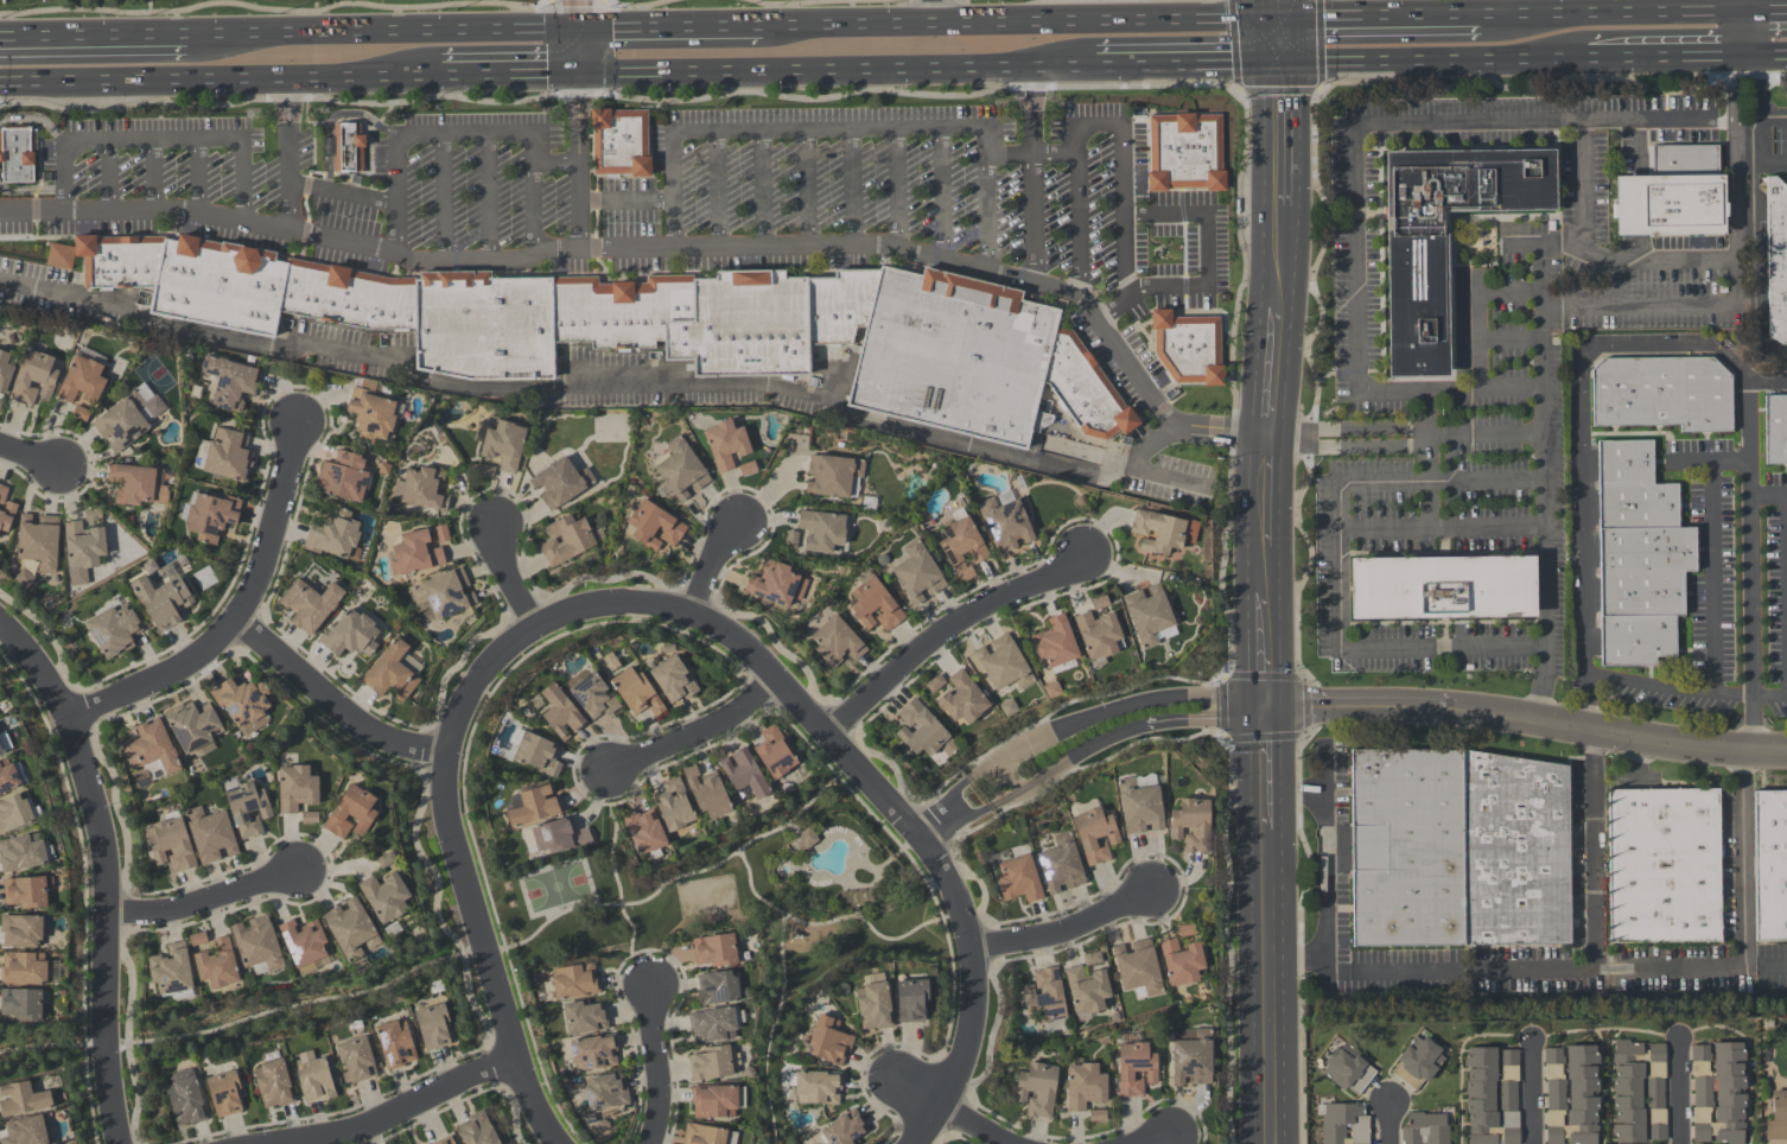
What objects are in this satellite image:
road: (822, 2)
road: (1742, 6)
road: (147, 7)
road: (1533, 7)
road: (412, 9)
road: (1274, 9)
road: (1283, 9)
road: (74, 12)
road: (929, 12)
road: (1764, 12)
road: (1613, 13)
road: (1380, 17)
traffic signals: (1279, 19)
road: (1022, 23)
road: (669, 28)
traffic signals: (575, 30)
road: (380, 32)
road: (93, 34)
road: (1743, 34)
road: (1279, 42)
road: (1764, 56)
road: (1662, 57)
road: (1431, 61)
road: (1188, 64)
traffic signals: (1279, 64)
road: (835, 68)
traffic signals: (575, 72)
road: (504, 74)
road: (216, 78)
road: (357, 114)
road: (1772, 117)
road: (1533, 120)
road: (37, 122)
road: (575, 126)
road: (967, 133)
road: (1278, 135)
road: (444, 138)
building: (619, 141)
road: (160, 146)
road: (329, 147)
building: (345, 147)
building: (1187, 152)
building: (17, 153)
road: (288, 153)
road: (1745, 164)
road: (1772, 164)
road: (1581, 173)
road: (329, 174)
road: (1035, 176)
road: (154, 178)
road: (110, 179)
road: (199, 180)
road: (1734, 182)
parking lot: (580, 183)
road: (853, 189)
road: (803, 190)
road: (761, 191)
road: (899, 191)
road: (713, 192)
road: (32, 193)
building: (1668, 195)
road: (342, 196)
road: (1757, 196)
road: (943, 197)
road: (485, 199)
road: (443, 201)
road: (624, 205)
road: (532, 211)
road: (987, 215)
road: (1077, 227)
road: (1562, 237)
building: (1441, 239)
road: (1525, 246)
road: (24, 250)
road: (1209, 250)
road: (621, 253)
road: (1357, 256)
road: (1278, 258)
road: (1647, 260)
building: (1775, 260)
road: (1511, 292)
building: (492, 306)
road: (1640, 307)
road: (1512, 341)
road: (1480, 342)
road: (1692, 342)
building: (1190, 348)
building: (954, 354)
building: (5, 371)
building: (33, 377)
road: (1270, 377)
building: (82, 381)
building: (229, 382)
road: (636, 389)
building: (1086, 389)
road: (1451, 392)
building: (1662, 396)
building: (0, 402)
building: (371, 411)
building: (80, 413)
building: (121, 421)
road: (1348, 426)
road: (1487, 432)
building: (1776, 432)
building: (503, 445)
building: (725, 445)
road: (1347, 449)
building: (199, 453)
road: (1545, 455)
building: (228, 456)
road: (28, 459)
road: (1429, 459)
road: (1707, 459)
building: (680, 469)
building: (746, 469)
building: (485, 471)
building: (832, 475)
building: (344, 476)
road: (1163, 478)
road: (1441, 478)
building: (560, 483)
building: (135, 485)
building: (421, 489)
road: (1768, 495)
road: (1266, 496)
building: (5, 510)
building: (209, 516)
building: (1004, 523)
building: (654, 526)
road: (1441, 527)
building: (820, 530)
building: (1162, 532)
building: (441, 534)
building: (333, 535)
building: (790, 539)
building: (566, 540)
building: (960, 540)
building: (37, 541)
road: (1585, 541)
building: (82, 551)
building: (414, 554)
building: (1641, 559)
road: (1267, 561)
road: (720, 566)
road: (1749, 566)
road: (1337, 567)
road: (501, 572)
building: (916, 573)
building: (965, 574)
road: (1712, 577)
building: (775, 584)
building: (1438, 589)
building: (444, 593)
building: (161, 600)
building: (1099, 603)
building: (309, 605)
building: (873, 605)
road: (654, 608)
road: (233, 611)
building: (1147, 615)
road: (954, 628)
building: (113, 629)
building: (349, 635)
building: (1098, 636)
road: (1267, 640)
building: (835, 642)
building: (1055, 644)
road: (1442, 649)
building: (1003, 665)
building: (390, 673)
building: (673, 680)
building: (934, 684)
road: (1668, 688)
building: (635, 692)
road: (1541, 695)
road: (1768, 697)
building: (593, 698)
building: (962, 699)
building: (242, 704)
traffic signals: (1268, 704)
road: (324, 705)
building: (560, 713)
road: (1160, 713)
road: (1527, 724)
building: (192, 726)
building: (923, 732)
road: (694, 737)
building: (4, 743)
building: (150, 754)
building: (772, 754)
building: (536, 755)
road: (1268, 765)
building: (743, 774)
building: (7, 777)
building: (295, 789)
road: (990, 789)
building: (706, 794)
building: (673, 806)
building: (533, 807)
building: (1139, 807)
building: (247, 809)
building: (13, 814)
building: (350, 814)
building: (309, 818)
building: (1191, 825)
building: (644, 834)
building: (209, 835)
building: (1094, 835)
building: (558, 837)
building: (803, 841)
building: (170, 844)
building: (1457, 849)
road: (1327, 852)
building: (21, 853)
building: (386, 860)
building: (1061, 865)
building: (1769, 865)
building: (1662, 866)
road: (98, 877)
building: (1018, 879)
building: (25, 892)
building: (384, 897)
road: (201, 902)
road: (1744, 917)
road: (1270, 926)
building: (350, 929)
road: (1070, 929)
building: (20, 930)
building: (1185, 930)
building: (197, 940)
building: (303, 945)
building: (256, 946)
building: (713, 951)
building: (1092, 959)
building: (1181, 962)
road: (1766, 964)
building: (216, 965)
building: (23, 968)
road: (1543, 968)
building: (1137, 970)
building: (171, 973)
building: (574, 981)
building: (716, 990)
building: (1086, 990)
building: (1044, 997)
building: (910, 1002)
building: (21, 1004)
building: (873, 1006)
building: (584, 1018)
building: (713, 1025)
building: (432, 1027)
building: (828, 1041)
building: (394, 1044)
building: (593, 1053)
building: (1191, 1056)
building: (356, 1060)
building: (1417, 1062)
building: (710, 1064)
road: (653, 1067)
building: (1134, 1068)
building: (1348, 1069)
building: (313, 1079)
road: (1270, 1082)
building: (272, 1085)
building: (815, 1087)
building: (1085, 1087)
building: (1036, 1089)
building: (1637, 1092)
road: (1684, 1092)
building: (605, 1093)
road: (1533, 1093)
building: (1718, 1093)
building: (223, 1094)
building: (1490, 1095)
building: (1571, 1095)
building: (185, 1099)
building: (21, 1100)
building: (712, 1101)
road: (950, 1107)
road: (393, 1113)
building: (1096, 1117)
building: (1776, 1117)
road: (1391, 1123)
building: (1343, 1124)
building: (1424, 1129)
building: (476, 1130)
building: (844, 1130)
building: (25, 1131)
building: (706, 1136)
building: (445, 1140)
road: (1164, 1142)

